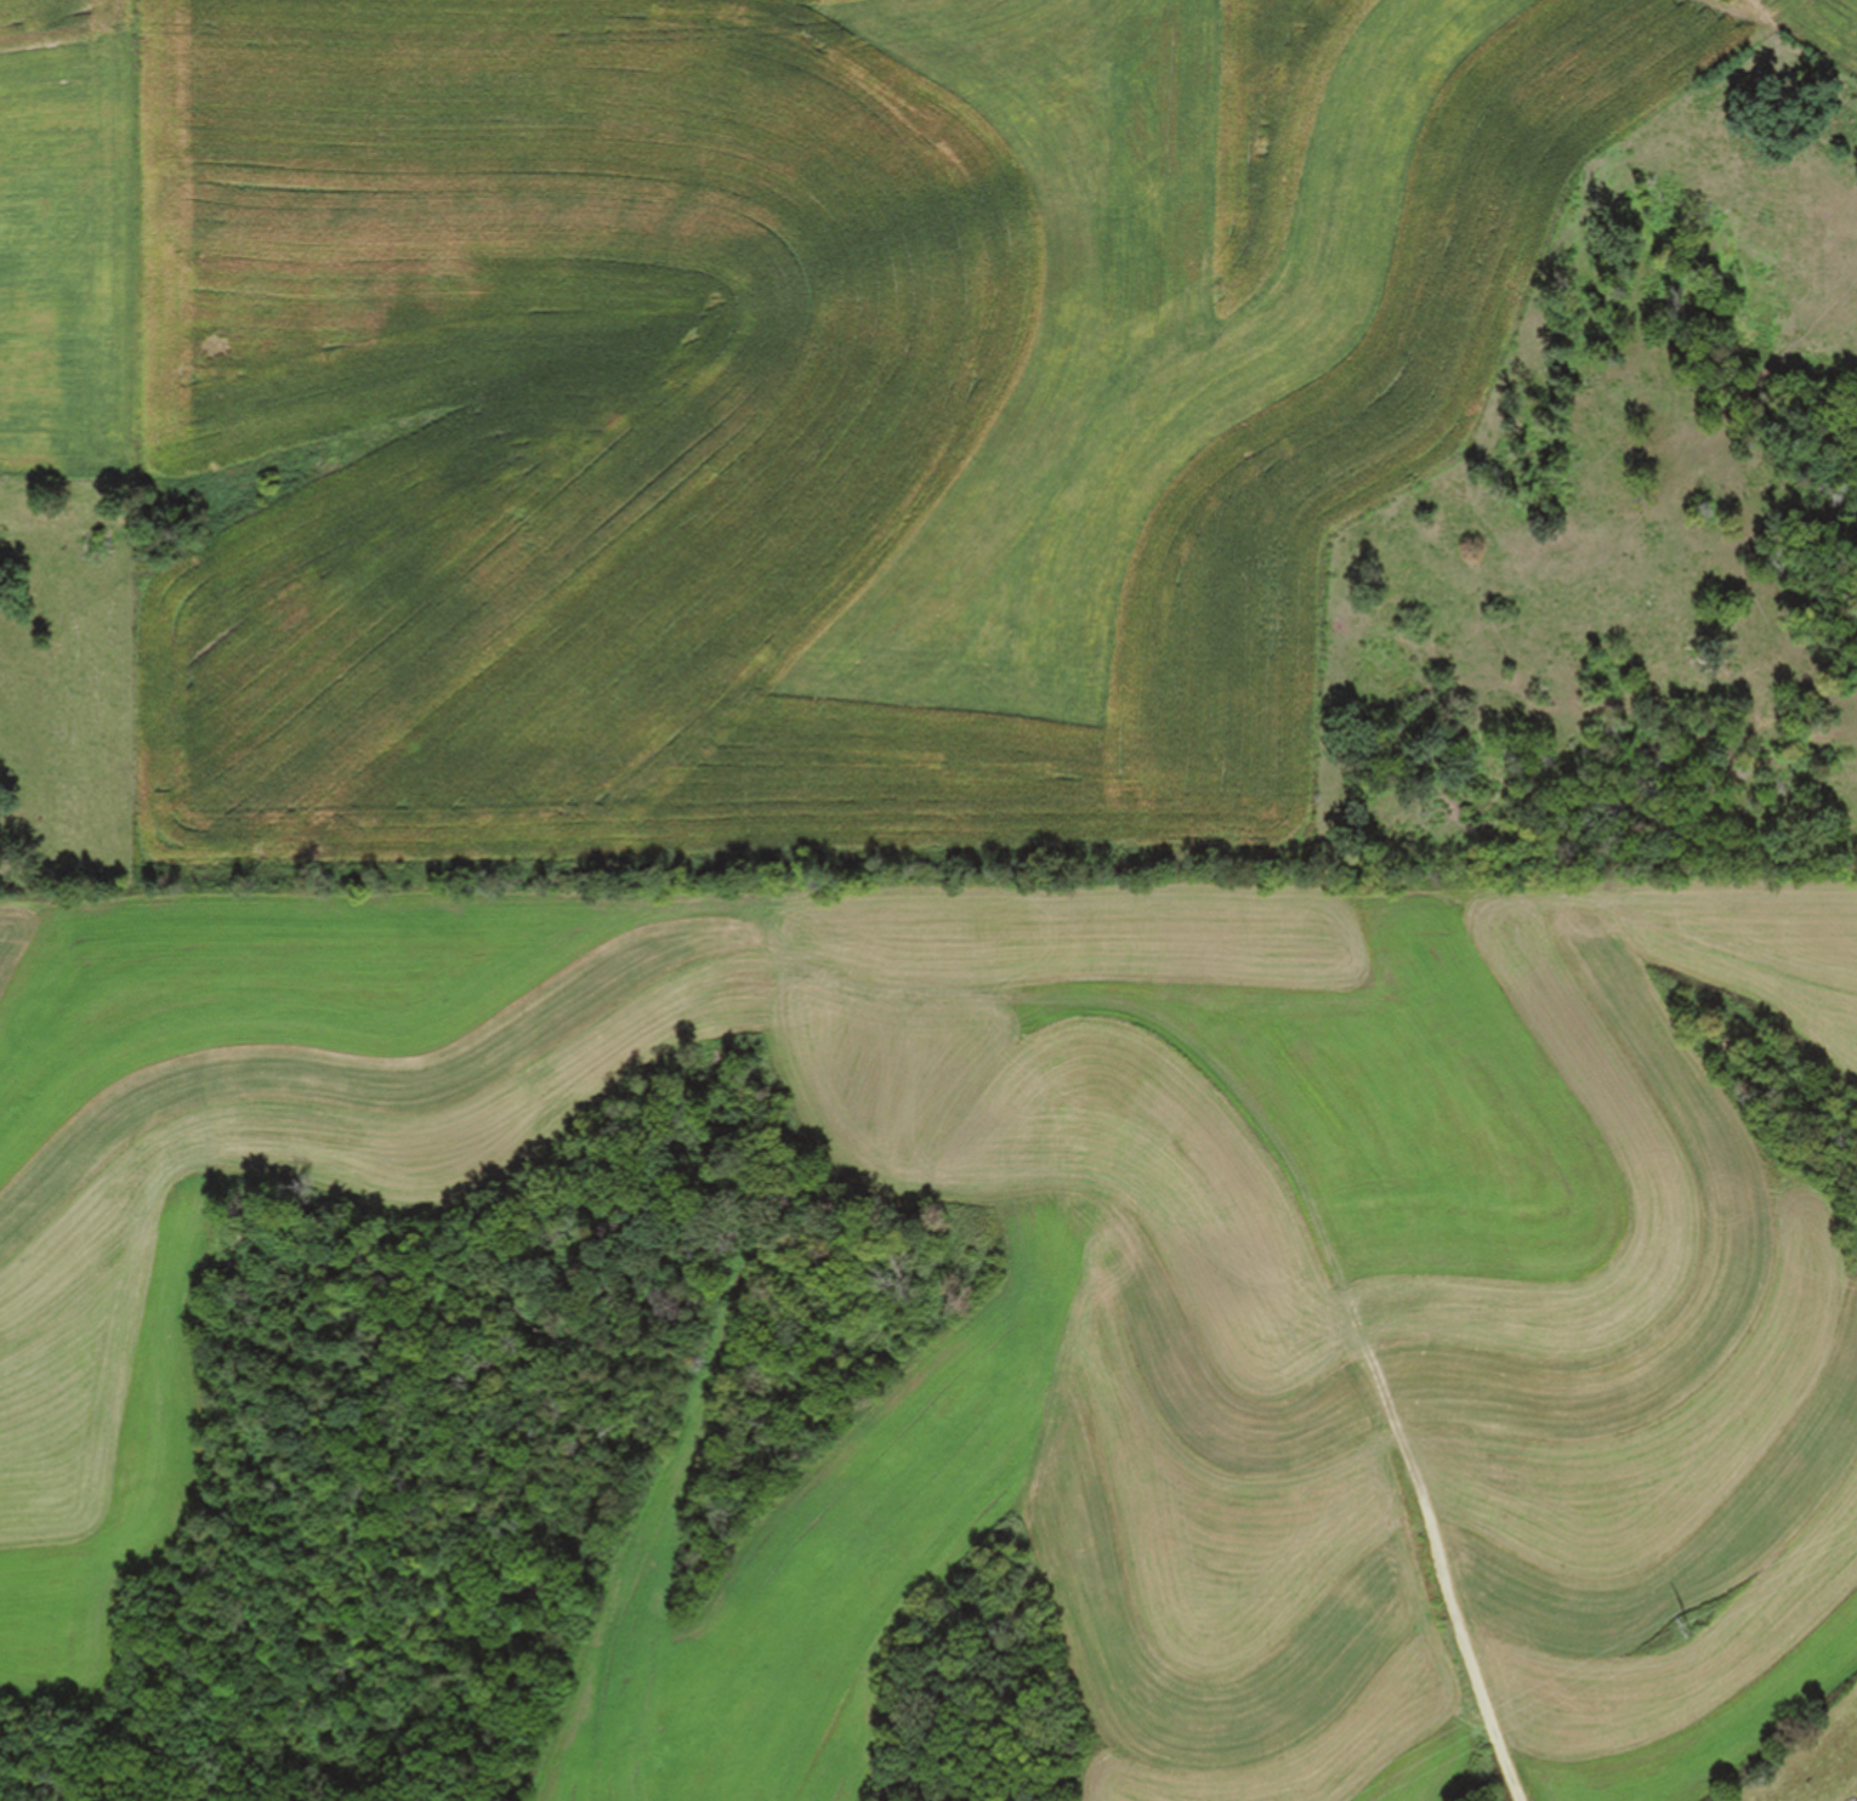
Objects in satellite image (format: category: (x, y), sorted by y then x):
power tower: (1687, 1627)
building: (1850, 1800)

